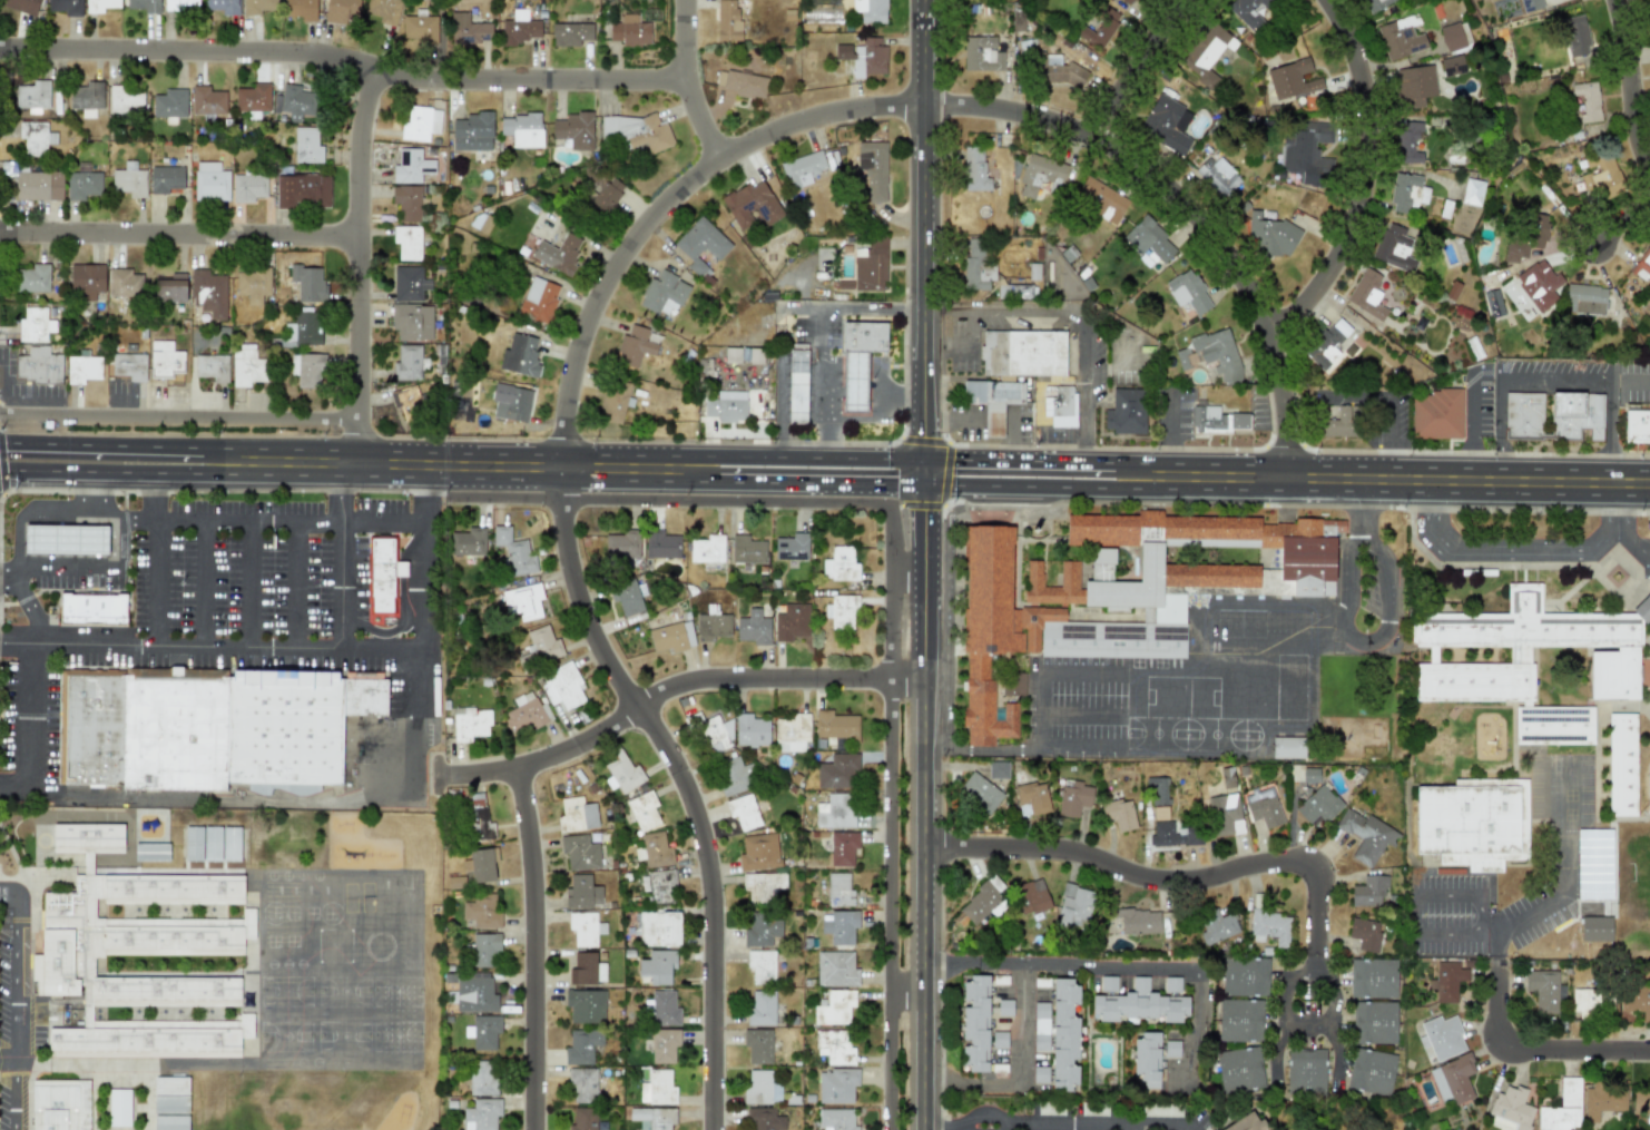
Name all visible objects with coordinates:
building: (1129, 1)
building: (1649, 3)
building: (99, 4)
building: (179, 4)
building: (1375, 4)
building: (1530, 4)
building: (21, 6)
building: (63, 6)
building: (144, 6)
building: (222, 6)
building: (257, 6)
building: (299, 9)
building: (382, 10)
building: (870, 10)
building: (342, 11)
building: (1246, 11)
building: (650, 14)
building: (727, 20)
building: (419, 27)
building: (519, 28)
building: (1100, 28)
building: (468, 29)
building: (630, 31)
building: (570, 33)
building: (1575, 35)
building: (1401, 37)
building: (1451, 37)
building: (1207, 52)
building: (982, 53)
building: (863, 57)
road: (350, 65)
building: (1452, 65)
road: (1143, 67)
road: (1640, 69)
building: (1060, 70)
building: (1290, 78)
road: (698, 81)
building: (740, 82)
building: (1414, 85)
building: (86, 97)
building: (253, 97)
building: (125, 99)
building: (207, 100)
building: (169, 102)
building: (296, 102)
road: (931, 102)
building: (420, 122)
building: (1167, 124)
building: (522, 129)
building: (573, 129)
building: (472, 131)
building: (635, 131)
building: (35, 137)
building: (1407, 141)
building: (306, 145)
building: (1307, 153)
building: (411, 166)
building: (801, 167)
building: (974, 168)
building: (872, 169)
building: (1039, 174)
building: (1218, 175)
building: (165, 178)
building: (129, 179)
road: (1372, 180)
building: (209, 181)
building: (82, 185)
building: (38, 186)
building: (247, 187)
building: (302, 190)
building: (1407, 191)
building: (1472, 191)
building: (607, 194)
road: (922, 197)
building: (406, 202)
building: (1107, 203)
building: (752, 205)
building: (481, 220)
road: (1622, 224)
road: (178, 234)
building: (1269, 236)
building: (1525, 237)
building: (1149, 238)
building: (701, 239)
building: (406, 242)
building: (1394, 247)
building: (558, 254)
building: (1146, 257)
building: (1642, 264)
road: (357, 265)
building: (870, 265)
building: (976, 265)
building: (31, 278)
building: (86, 281)
building: (124, 283)
building: (409, 283)
building: (253, 284)
building: (1538, 284)
building: (310, 285)
building: (170, 287)
building: (662, 291)
building: (1187, 291)
building: (208, 292)
building: (1366, 293)
building: (1584, 298)
building: (538, 299)
building: (1493, 303)
road: (777, 312)
road: (1078, 317)
building: (412, 321)
building: (35, 324)
building: (303, 330)
building: (863, 337)
building: (1326, 344)
building: (634, 346)
building: (1216, 350)
building: (1022, 352)
building: (519, 356)
building: (164, 358)
building: (406, 363)
building: (38, 365)
building: (246, 365)
building: (127, 366)
building: (212, 366)
building: (84, 367)
building: (308, 369)
flagpole: (872, 379)
road: (1526, 379)
road: (825, 383)
building: (854, 383)
building: (796, 384)
road: (902, 393)
road: (1333, 395)
building: (991, 400)
building: (613, 401)
building: (406, 402)
building: (513, 404)
building: (1053, 405)
building: (726, 406)
building: (1124, 411)
road: (179, 414)
building: (1436, 414)
building: (1552, 414)
road: (878, 417)
building: (1217, 420)
building: (1339, 422)
road: (923, 424)
building: (1637, 424)
road: (1610, 429)
road: (1386, 436)
road: (100, 445)
road: (224, 452)
road: (757, 454)
road: (874, 455)
traffic signals: (923, 455)
road: (1024, 456)
road: (470, 461)
road: (923, 469)
road: (125, 472)
road: (706, 472)
road: (1386, 475)
road: (821, 480)
traffic signals: (923, 482)
road: (1024, 483)
road: (342, 487)
road: (428, 487)
road: (701, 501)
road: (1615, 502)
road: (1362, 503)
road: (1428, 507)
road: (28, 510)
road: (157, 511)
road: (185, 513)
road: (385, 513)
road: (923, 525)
building: (66, 540)
building: (468, 541)
road: (1373, 542)
road: (1632, 542)
building: (622, 544)
building: (661, 544)
building: (792, 547)
building: (707, 549)
building: (747, 550)
building: (513, 551)
road: (1526, 552)
building: (1102, 563)
building: (839, 564)
road: (906, 568)
road: (8, 569)
road: (88, 569)
building: (381, 576)
road: (204, 578)
road: (1346, 578)
road: (245, 579)
road: (294, 579)
road: (347, 579)
building: (1124, 591)
road: (1384, 592)
building: (626, 597)
building: (527, 600)
building: (95, 610)
building: (842, 611)
building: (792, 622)
road: (891, 623)
building: (713, 626)
building: (754, 628)
building: (671, 637)
road: (1356, 637)
road: (1375, 637)
road: (17, 641)
road: (227, 643)
building: (542, 645)
building: (1529, 649)
road: (1079, 670)
road: (677, 684)
building: (562, 685)
building: (365, 696)
road: (1039, 710)
road: (1079, 710)
building: (523, 714)
road: (27, 723)
building: (470, 724)
building: (1554, 725)
building: (284, 726)
building: (835, 726)
building: (92, 731)
building: (750, 731)
building: (175, 733)
building: (711, 733)
building: (792, 733)
road: (1078, 741)
building: (1288, 747)
road: (934, 749)
road: (992, 749)
building: (1622, 765)
building: (998, 769)
building: (838, 772)
building: (622, 773)
building: (733, 776)
building: (1226, 777)
road: (12, 780)
road: (684, 782)
road: (418, 787)
building: (1157, 790)
building: (980, 792)
road: (88, 795)
building: (1032, 798)
building: (1074, 798)
building: (1318, 805)
building: (1263, 807)
building: (644, 810)
building: (836, 810)
building: (744, 812)
building: (1119, 814)
building: (577, 815)
building: (1224, 815)
building: (478, 817)
building: (1467, 819)
building: (1175, 834)
building: (1366, 835)
building: (193, 844)
building: (212, 844)
building: (230, 844)
building: (843, 847)
road: (923, 849)
building: (654, 851)
building: (151, 852)
building: (580, 852)
building: (758, 852)
building: (481, 864)
building: (1594, 864)
road: (1198, 883)
building: (762, 885)
building: (659, 886)
building: (838, 890)
building: (1368, 892)
building: (582, 893)
building: (1032, 896)
road: (1466, 897)
building: (981, 901)
road: (892, 905)
building: (1073, 907)
building: (482, 911)
building: (1139, 922)
road: (1454, 925)
building: (841, 926)
building: (1217, 926)
building: (1270, 927)
building: (585, 928)
building: (659, 928)
building: (762, 928)
building: (1595, 928)
building: (1365, 934)
building: (143, 936)
road: (546, 945)
building: (485, 950)
road: (1499, 950)
building: (658, 966)
building: (762, 966)
building: (587, 969)
building: (836, 969)
road: (1126, 973)
building: (1245, 976)
building: (1373, 977)
building: (1448, 981)
building: (1108, 984)
building: (1171, 984)
road: (907, 986)
building: (1542, 990)
building: (474, 993)
building: (1585, 1001)
building: (1634, 1003)
road: (14, 1004)
building: (1139, 1004)
building: (586, 1005)
building: (835, 1008)
building: (665, 1009)
building: (762, 1009)
building: (1240, 1020)
building: (1374, 1022)
building: (975, 1024)
building: (483, 1031)
building: (1064, 1035)
building: (1443, 1036)
building: (664, 1045)
building: (758, 1045)
building: (582, 1047)
building: (835, 1047)
building: (1170, 1050)
building: (1147, 1060)
building: (1239, 1069)
building: (1306, 1071)
building: (1371, 1071)
building: (482, 1078)
building: (1453, 1079)
road: (1031, 1081)
building: (170, 1085)
building: (582, 1085)
building: (837, 1085)
building: (658, 1088)
building: (760, 1088)
building: (1603, 1100)
building: (1641, 1102)
building: (60, 1104)
building: (170, 1104)
building: (119, 1107)
building: (1562, 1108)
building: (1511, 1110)
building: (1161, 1111)
park: (1334, 1112)
building: (482, 1114)
road: (988, 1117)
building: (654, 1118)
building: (583, 1119)
building: (764, 1119)
building: (836, 1119)
building: (170, 1122)
building: (1245, 1122)
road: (1100, 1128)

